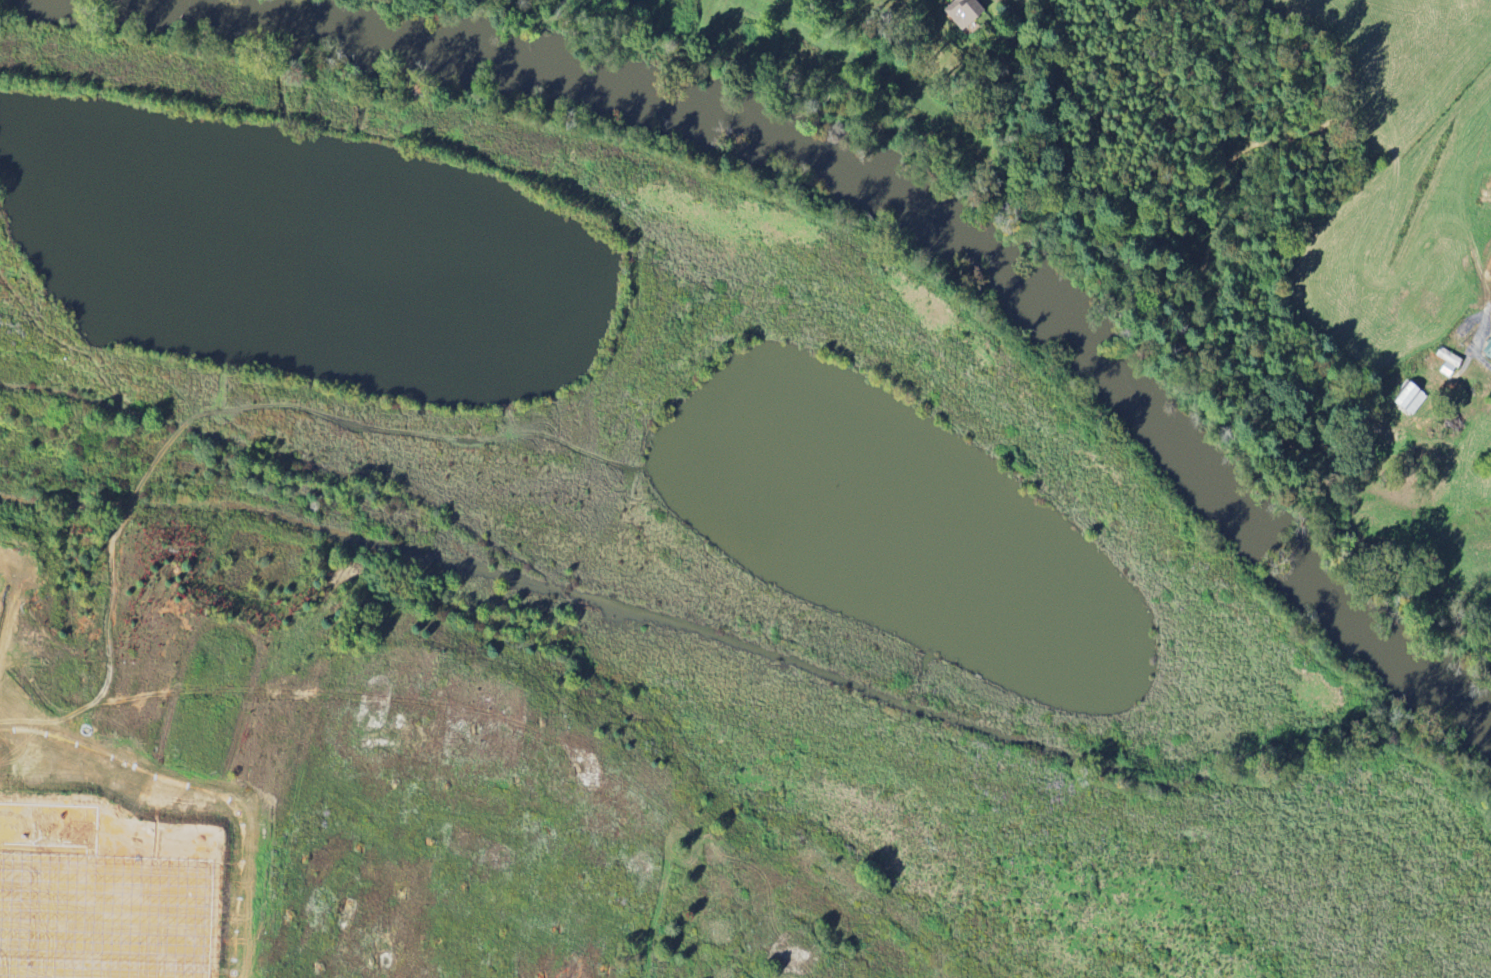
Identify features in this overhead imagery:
building: (965, 12)
river: (932, 210)
building: (1487, 350)
road: (1484, 359)
building: (1406, 399)

